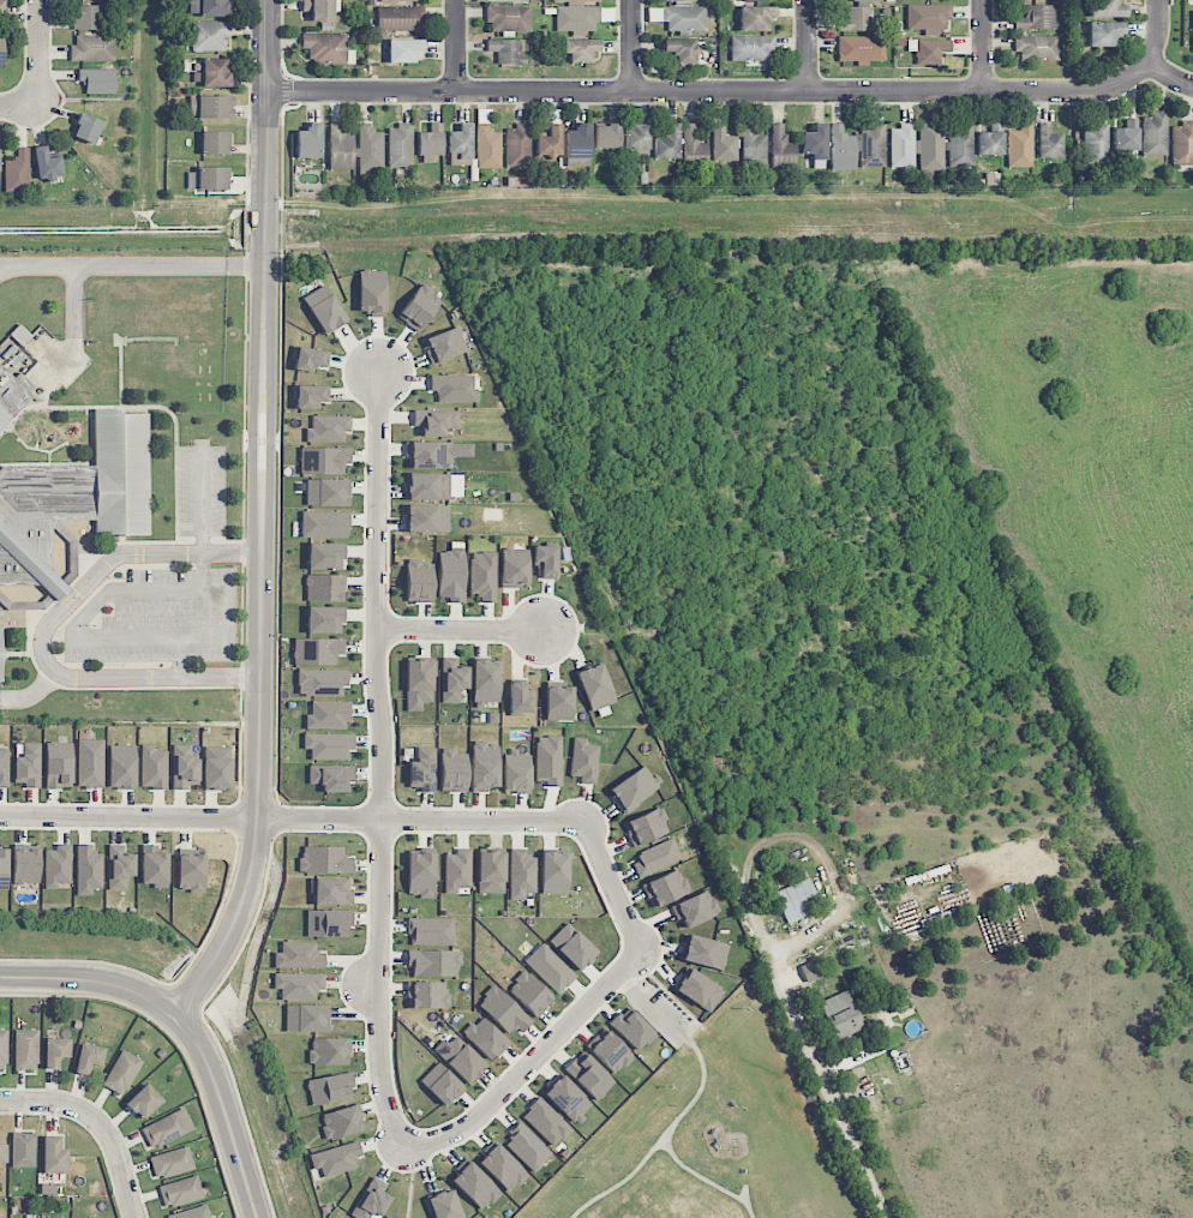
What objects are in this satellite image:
building: (400, 0)
building: (500, 0)
building: (681, 0)
building: (754, 0)
building: (867, 0)
building: (575, 1)
building: (1, 7)
building: (208, 7)
building: (319, 8)
building: (1105, 8)
building: (654, 14)
building: (88, 17)
building: (928, 17)
building: (400, 18)
building: (509, 18)
building: (582, 18)
building: (684, 18)
building: (755, 18)
building: (1037, 18)
building: (861, 19)
building: (1192, 30)
building: (1103, 34)
road: (1158, 34)
building: (210, 35)
road: (809, 46)
road: (985, 46)
road: (456, 47)
road: (631, 47)
building: (326, 48)
building: (753, 48)
building: (1036, 48)
building: (92, 49)
building: (580, 49)
building: (861, 49)
building: (404, 50)
building: (506, 50)
building: (681, 50)
building: (928, 50)
building: (1, 53)
road: (41, 53)
building: (212, 73)
road: (1168, 74)
building: (97, 80)
road: (709, 92)
road: (20, 106)
building: (210, 107)
building: (86, 128)
building: (1155, 134)
building: (1126, 136)
building: (607, 137)
building: (636, 137)
building: (430, 140)
building: (991, 140)
building: (308, 142)
building: (461, 142)
building: (548, 142)
building: (577, 142)
building: (815, 142)
building: (215, 143)
building: (667, 143)
building: (1049, 143)
building: (871, 144)
building: (1182, 144)
building: (400, 145)
building: (724, 145)
building: (961, 145)
building: (518, 146)
building: (753, 146)
building: (917, 146)
building: (1020, 146)
building: (1095, 146)
building: (340, 148)
building: (487, 148)
building: (693, 148)
building: (781, 148)
building: (370, 149)
building: (841, 149)
building: (47, 164)
building: (17, 172)
building: (209, 179)
road: (132, 265)
building: (371, 293)
building: (419, 307)
building: (324, 310)
building: (444, 346)
building: (310, 359)
building: (454, 389)
building: (11, 395)
building: (311, 396)
building: (434, 422)
building: (328, 428)
building: (436, 454)
building: (324, 460)
building: (433, 486)
building: (326, 492)
building: (73, 499)
road: (262, 518)
building: (427, 518)
building: (324, 524)
building: (325, 556)
building: (545, 560)
building: (514, 568)
road: (204, 572)
building: (451, 572)
building: (482, 576)
building: (419, 581)
building: (325, 588)
building: (325, 619)
road: (43, 631)
road: (460, 631)
road: (182, 640)
building: (317, 650)
road: (179, 659)
building: (452, 680)
building: (486, 680)
building: (322, 683)
building: (419, 684)
building: (595, 686)
road: (31, 694)
building: (518, 698)
building: (559, 704)
building: (328, 715)
building: (329, 745)
road: (382, 760)
building: (548, 760)
building: (583, 761)
building: (90, 763)
building: (58, 766)
building: (485, 766)
building: (121, 767)
building: (4, 768)
building: (152, 768)
building: (184, 768)
building: (216, 768)
building: (422, 770)
building: (452, 770)
building: (516, 773)
building: (331, 778)
building: (634, 788)
road: (290, 818)
building: (646, 827)
road: (807, 841)
building: (657, 857)
building: (325, 859)
building: (25, 866)
building: (58, 866)
building: (119, 866)
building: (154, 866)
building: (4, 869)
building: (88, 870)
building: (191, 872)
building: (457, 872)
building: (491, 872)
building: (554, 872)
building: (521, 874)
building: (420, 875)
road: (611, 886)
building: (665, 888)
building: (331, 892)
building: (796, 900)
building: (695, 910)
building: (328, 923)
building: (431, 931)
building: (572, 947)
building: (705, 952)
building: (299, 955)
building: (433, 962)
building: (550, 968)
building: (299, 985)
road: (371, 988)
building: (699, 990)
building: (530, 994)
building: (426, 995)
road: (646, 1007)
building: (503, 1010)
building: (841, 1015)
building: (307, 1018)
road: (186, 1030)
building: (631, 1030)
building: (485, 1038)
building: (4, 1050)
building: (26, 1050)
building: (55, 1051)
building: (329, 1051)
building: (612, 1051)
building: (89, 1058)
building: (462, 1060)
road: (530, 1063)
building: (121, 1073)
building: (589, 1075)
road: (825, 1084)
building: (442, 1085)
road: (702, 1087)
building: (330, 1088)
building: (566, 1098)
building: (144, 1102)
road: (98, 1122)
building: (341, 1122)
park: (713, 1127)
building: (167, 1128)
building: (527, 1147)
building: (23, 1150)
building: (2, 1153)
building: (53, 1156)
building: (336, 1159)
building: (172, 1163)
building: (502, 1168)
road: (706, 1180)
road: (622, 1182)
building: (475, 1186)
building: (180, 1192)
building: (371, 1200)
building: (443, 1205)
building: (192, 1213)

